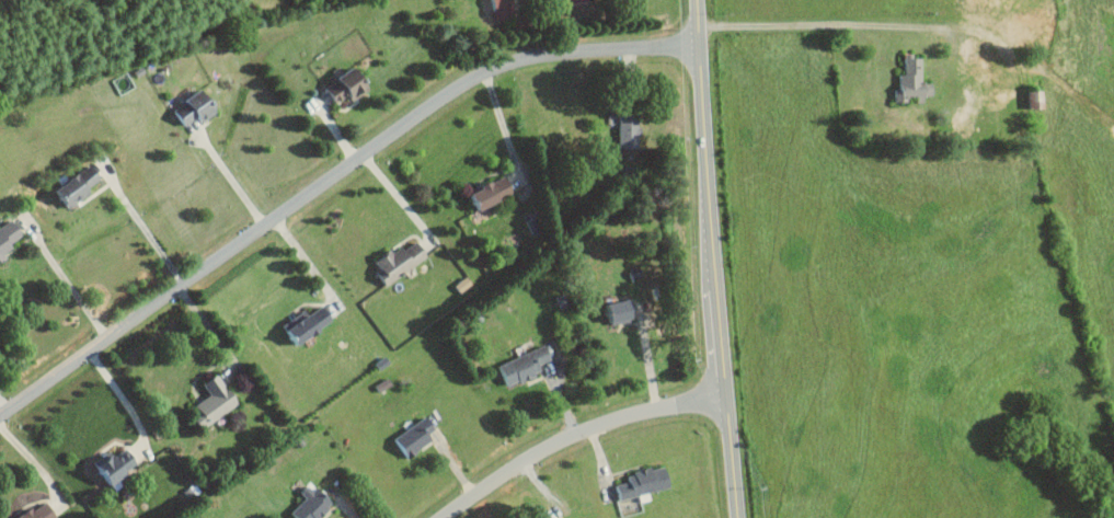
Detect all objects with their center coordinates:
building: (983, 4)
road: (868, 23)
building: (908, 80)
building: (338, 87)
building: (190, 107)
road: (503, 126)
building: (623, 130)
road: (232, 179)
road: (330, 181)
building: (71, 185)
building: (483, 192)
road: (398, 199)
road: (142, 225)
building: (8, 235)
road: (714, 258)
building: (393, 261)
road: (309, 264)
road: (67, 281)
building: (611, 311)
building: (300, 324)
road: (216, 335)
road: (647, 357)
building: (519, 365)
building: (207, 402)
road: (125, 403)
road: (4, 406)
road: (575, 435)
building: (411, 436)
road: (34, 462)
building: (639, 482)
building: (306, 504)
building: (36, 511)
building: (563, 517)

